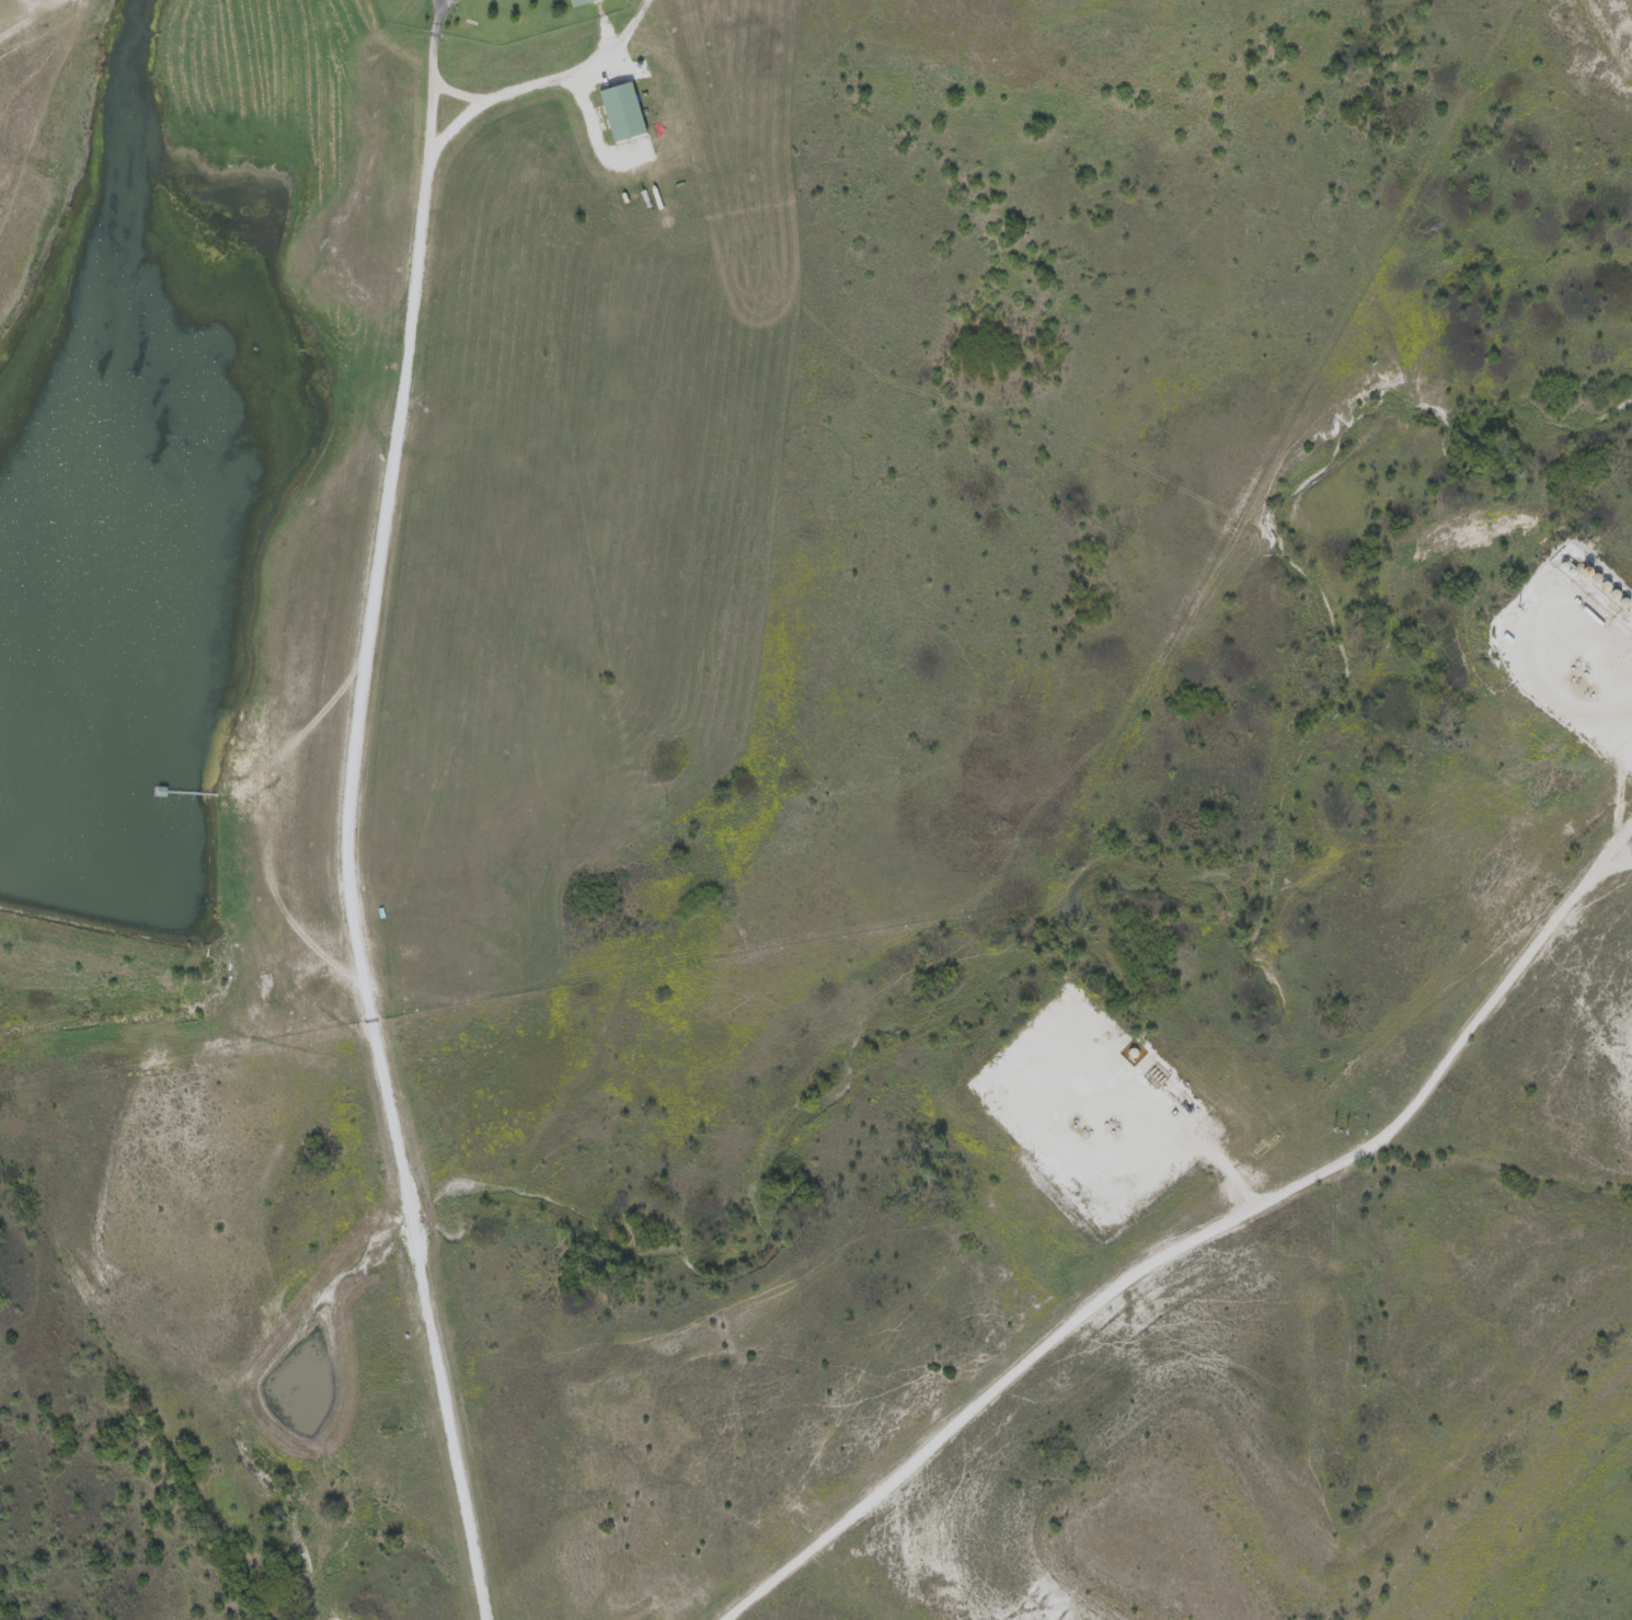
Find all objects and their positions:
building: (572, 1)
road: (22, 4)
road: (23, 11)
road: (520, 80)
building: (617, 111)
road: (455, 123)
building: (1605, 743)
road: (340, 813)
road: (1624, 849)
road: (1198, 1230)

